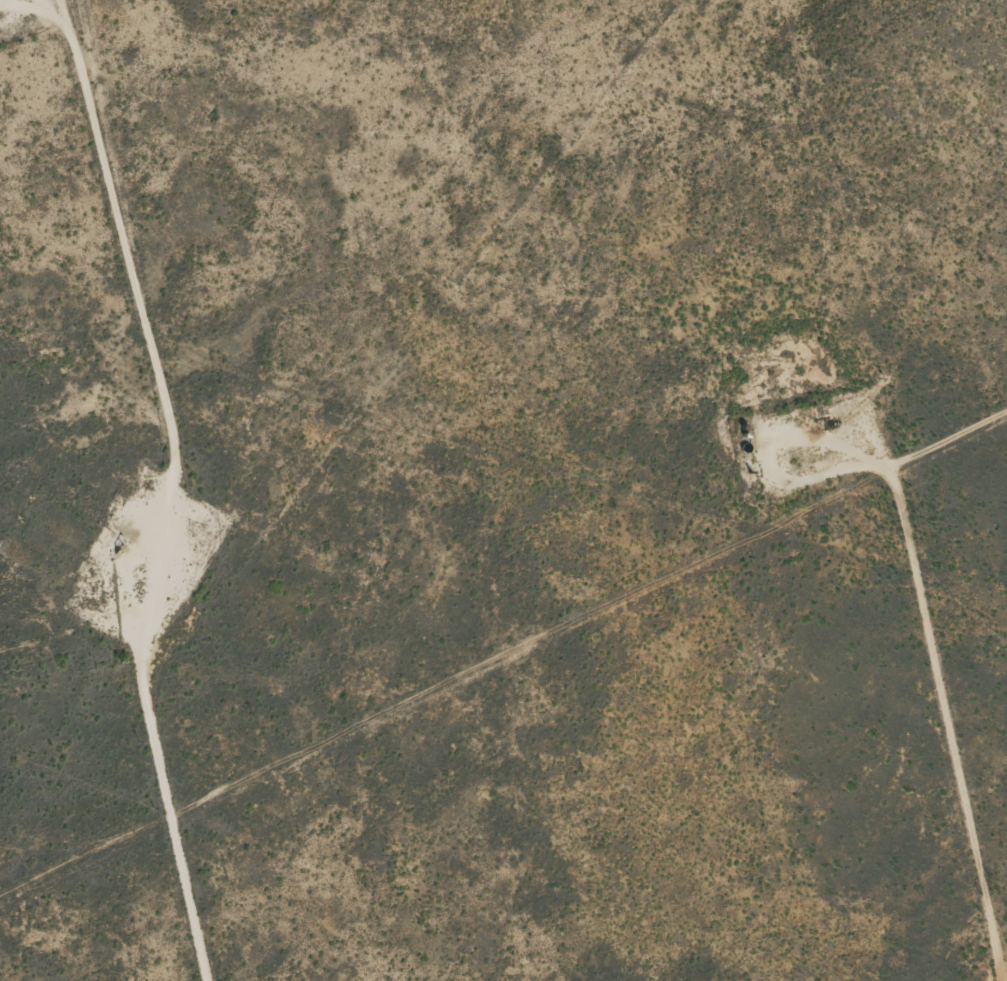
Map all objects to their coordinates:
road: (120, 402)

